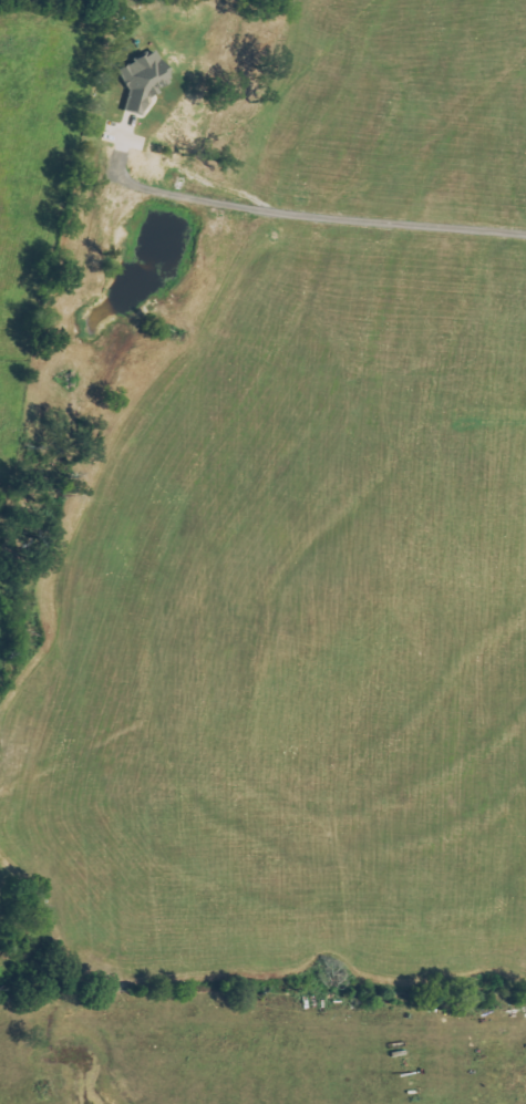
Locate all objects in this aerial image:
building: (143, 78)

